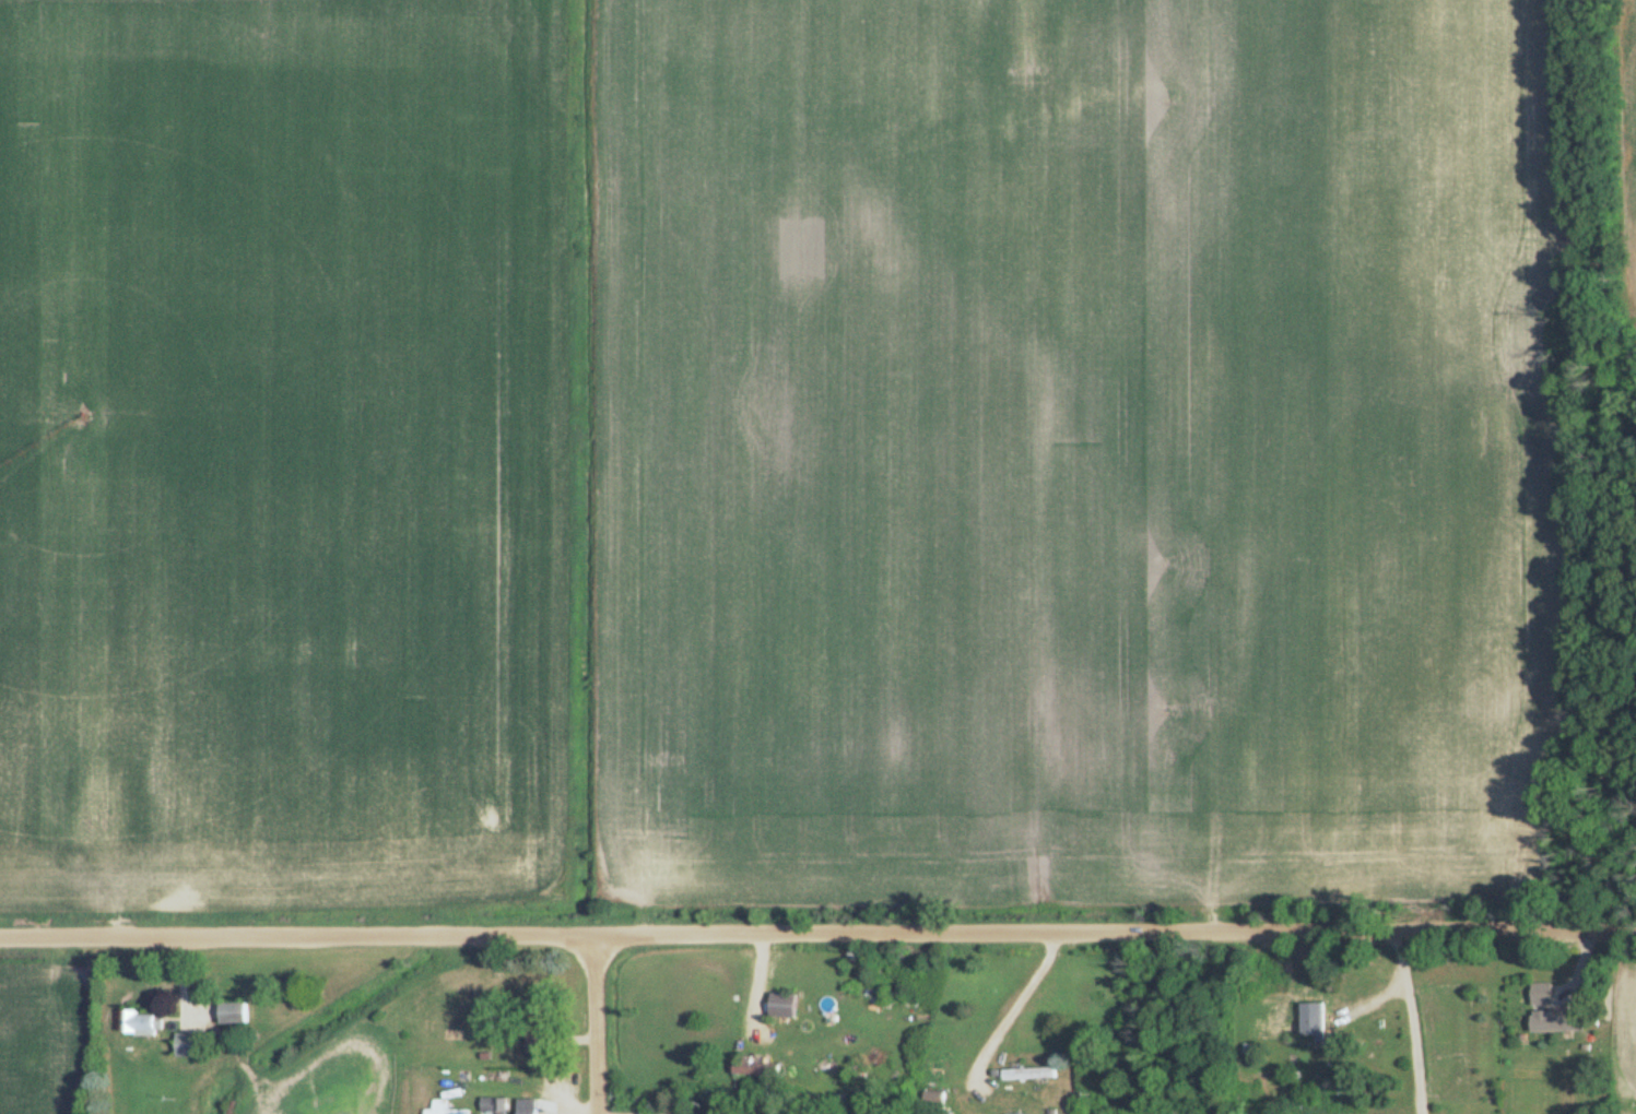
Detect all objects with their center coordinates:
road: (817, 931)
building: (1543, 996)
road: (1005, 1006)
building: (786, 1007)
road: (1412, 1014)
building: (237, 1016)
road: (596, 1022)
building: (1316, 1022)
building: (144, 1024)
building: (1561, 1024)
building: (539, 1029)
building: (195, 1046)
building: (756, 1069)
building: (1028, 1076)
building: (494, 1106)
building: (528, 1107)
building: (444, 1109)

